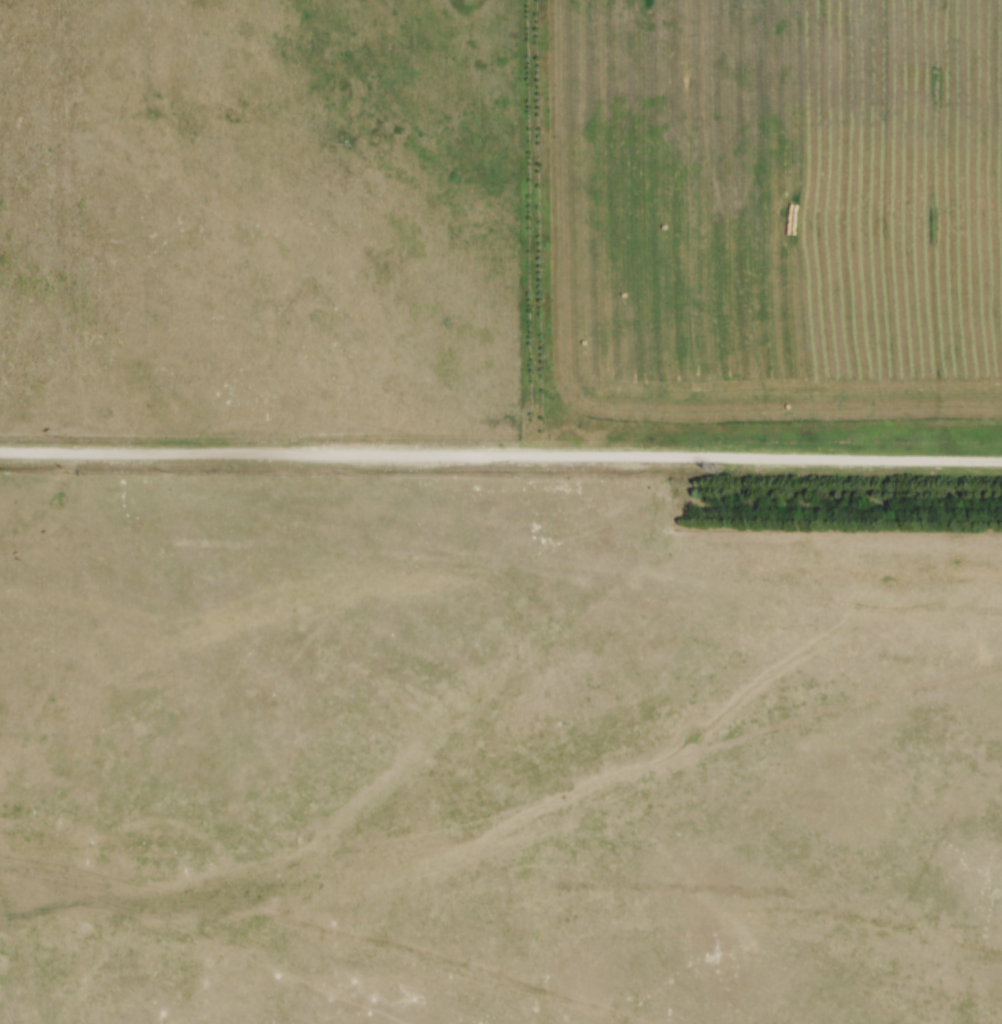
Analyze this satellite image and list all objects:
road: (500, 456)

